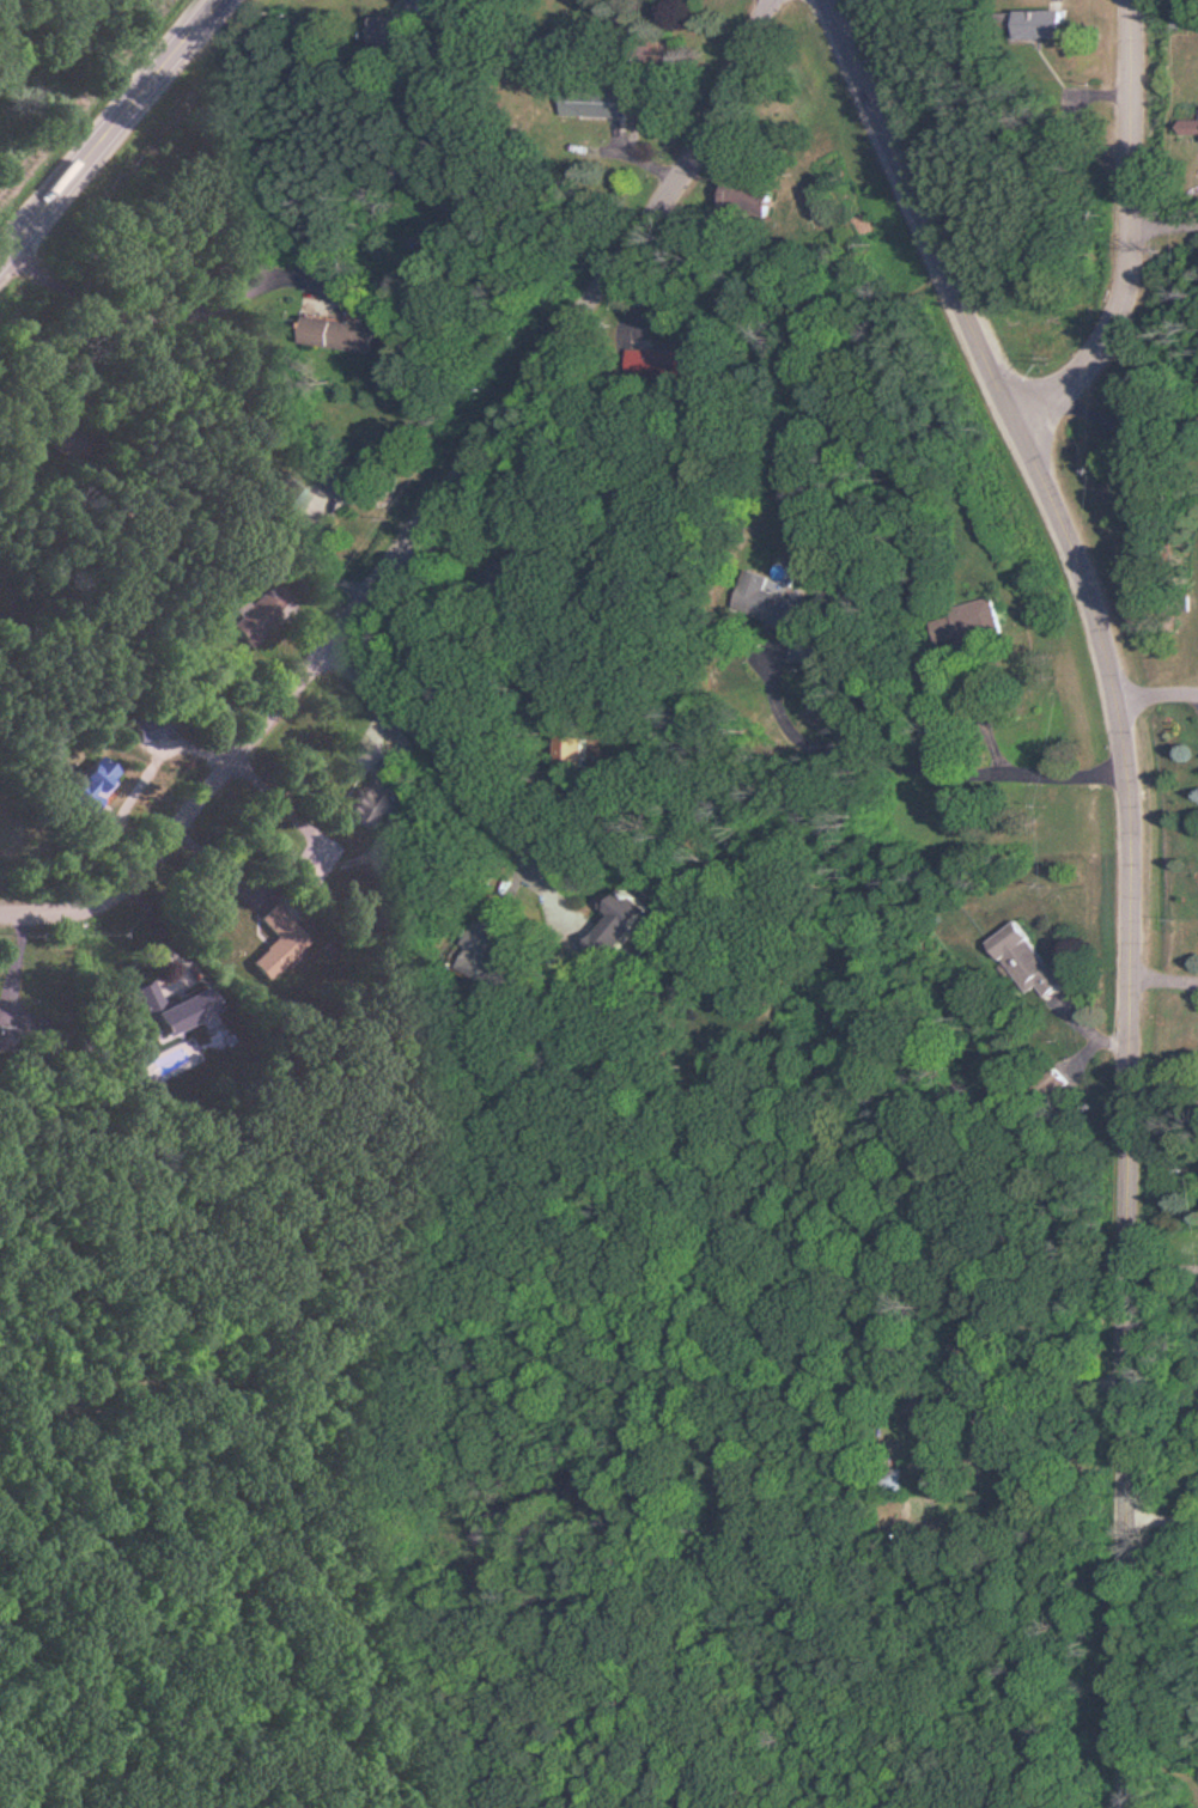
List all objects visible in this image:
building: (1046, 25)
building: (601, 103)
road: (108, 129)
building: (1192, 129)
road: (1138, 136)
building: (752, 199)
road: (1167, 229)
road: (1091, 357)
building: (645, 363)
building: (294, 491)
building: (377, 492)
road: (432, 517)
building: (261, 614)
building: (972, 625)
road: (1156, 696)
building: (156, 726)
building: (574, 755)
road: (945, 763)
building: (97, 786)
building: (376, 799)
road: (457, 860)
road: (1130, 873)
building: (279, 925)
building: (625, 930)
building: (488, 952)
building: (1030, 962)
road: (1163, 978)
building: (177, 1010)
building: (8, 1031)
building: (893, 1479)

